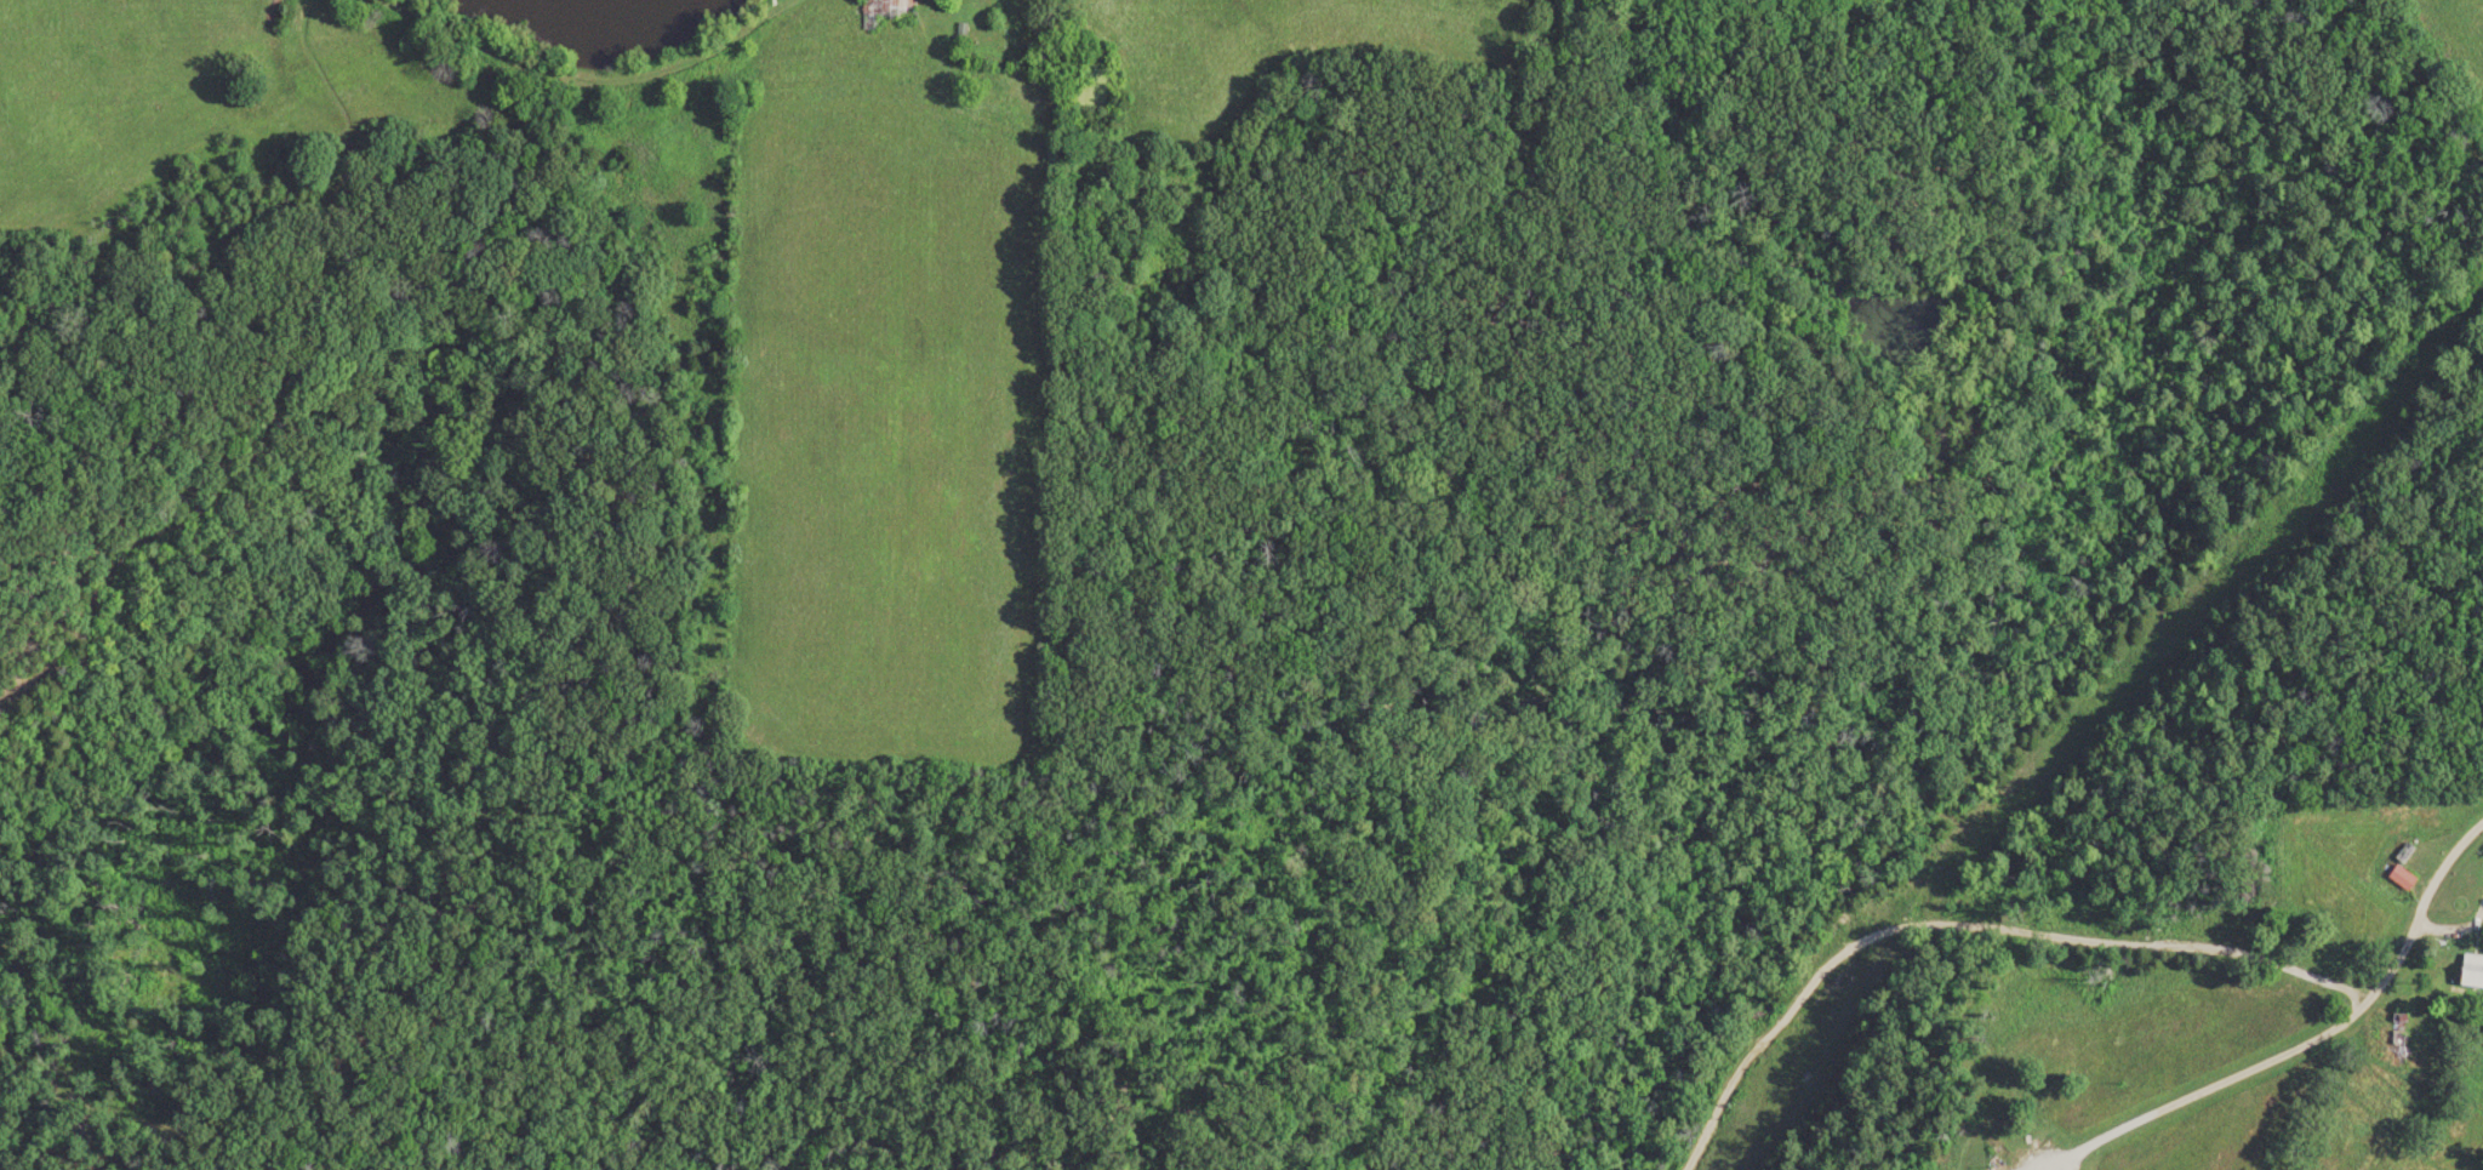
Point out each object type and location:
building: (890, 13)
road: (2420, 78)
road: (2442, 878)
road: (2042, 935)
building: (2464, 971)
building: (2387, 1041)

